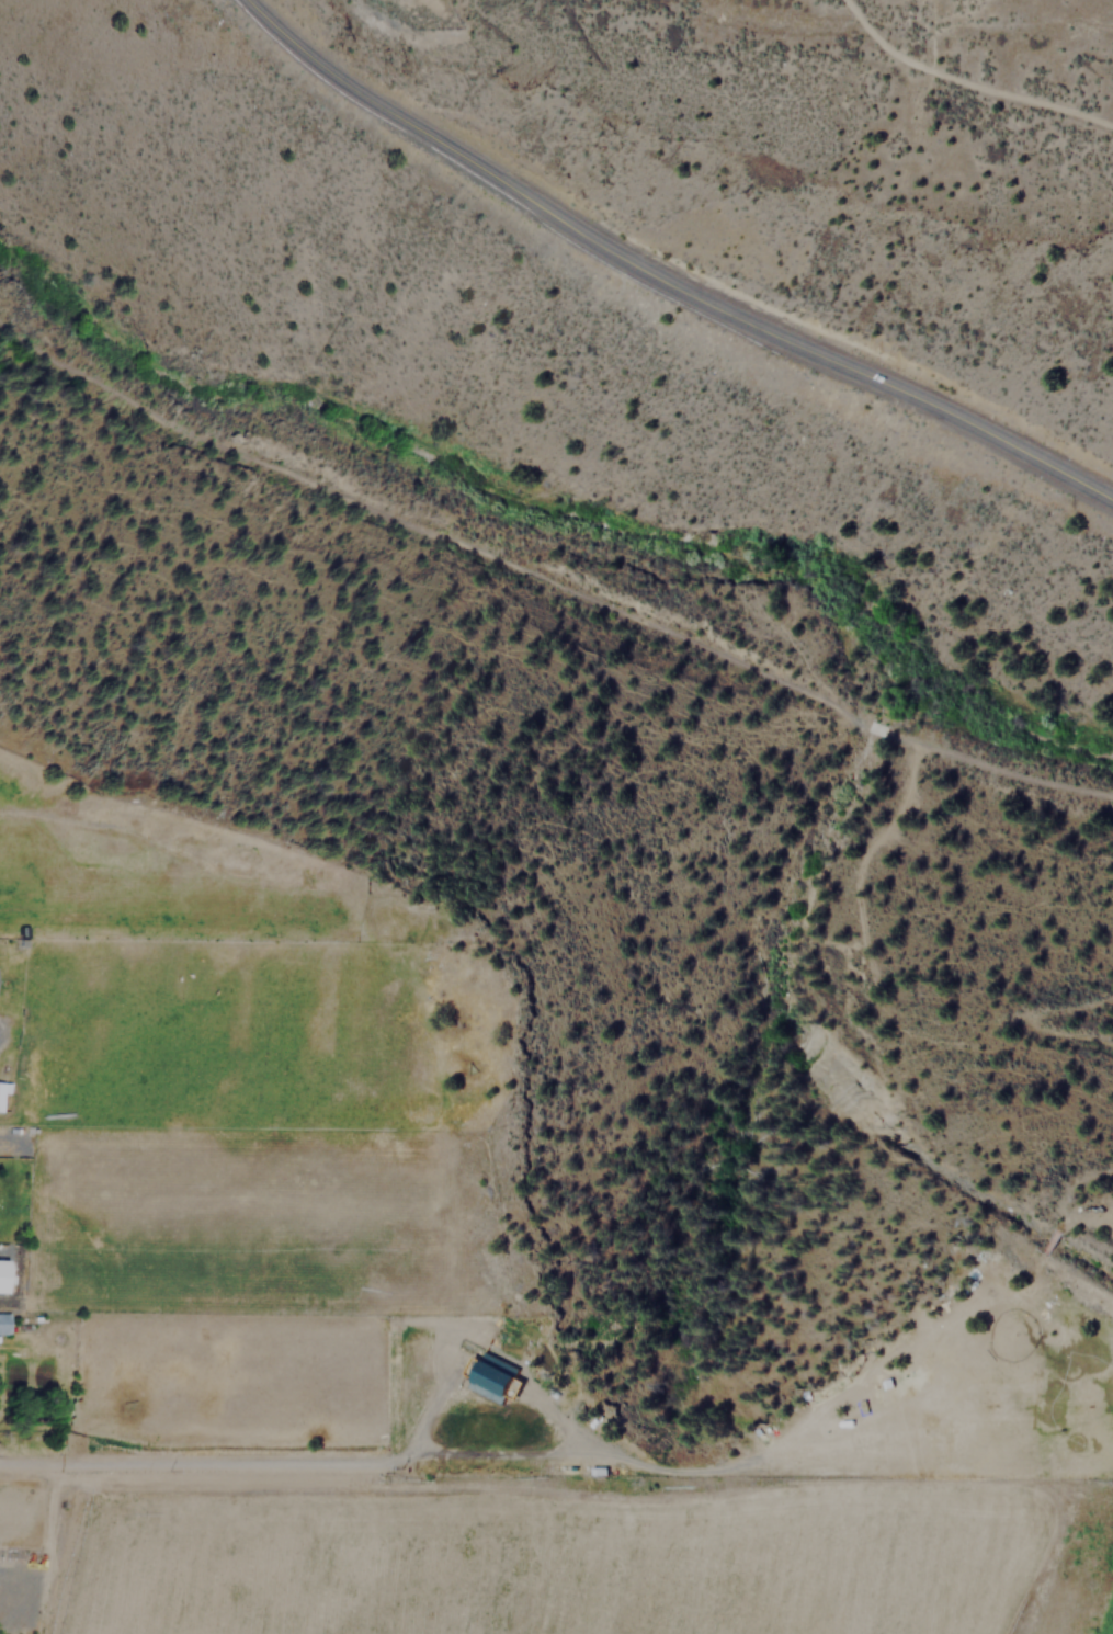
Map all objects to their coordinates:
road: (663, 276)
road: (547, 579)
building: (3, 1096)
road: (1063, 1202)
building: (0, 1269)
building: (2, 1323)
building: (490, 1377)
road: (138, 1459)

